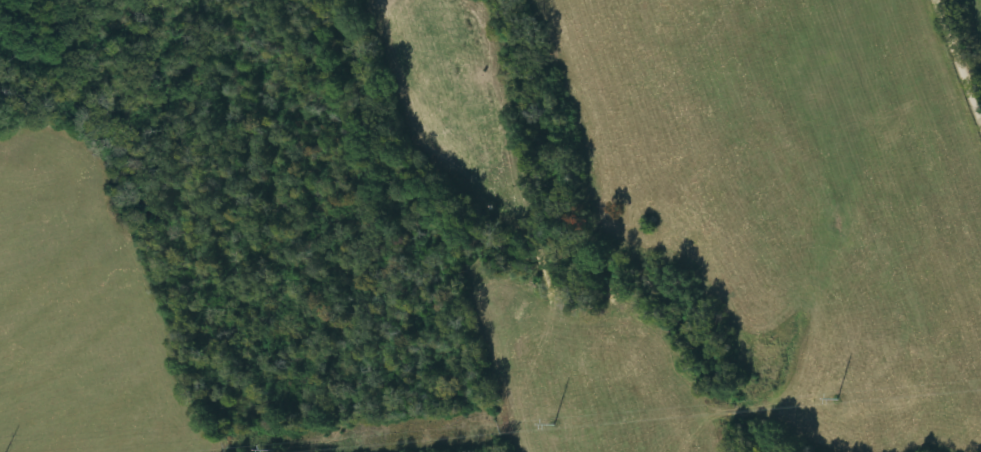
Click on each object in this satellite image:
road: (959, 69)

